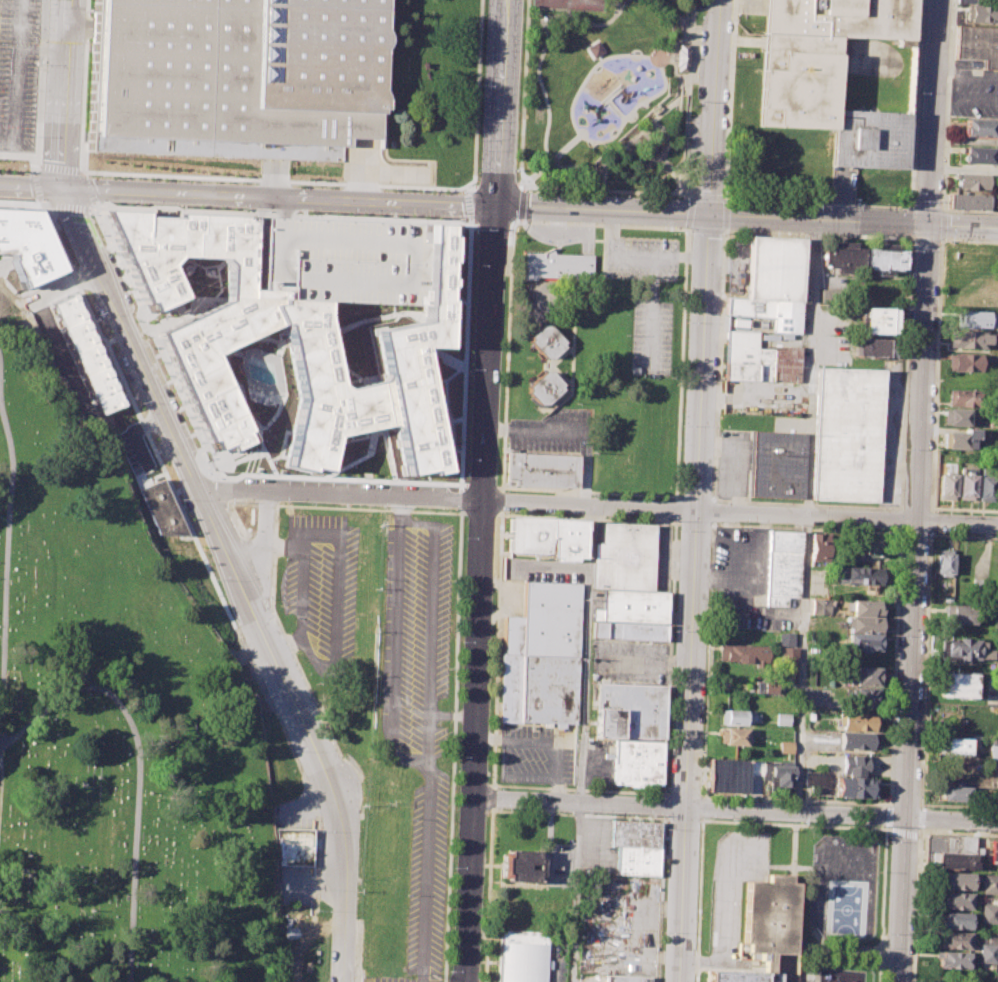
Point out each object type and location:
building: (965, 0)
park: (570, 4)
road: (665, 8)
building: (983, 13)
road: (669, 30)
road: (680, 38)
building: (977, 44)
building: (680, 57)
road: (538, 63)
road: (673, 64)
building: (238, 72)
building: (829, 74)
road: (662, 78)
parking lot: (18, 79)
street lamp: (482, 86)
road: (39, 87)
road: (67, 92)
road: (476, 99)
park: (610, 100)
road: (500, 103)
road: (677, 112)
road: (931, 113)
building: (980, 127)
road: (642, 129)
road: (945, 132)
building: (977, 154)
road: (18, 156)
road: (660, 159)
road: (549, 161)
road: (38, 166)
road: (61, 169)
street lamp: (477, 172)
road: (677, 177)
road: (272, 180)
building: (971, 180)
road: (32, 183)
road: (38, 184)
road: (470, 185)
road: (85, 187)
road: (604, 190)
road: (280, 195)
road: (21, 199)
road: (515, 199)
road: (44, 201)
building: (966, 201)
road: (468, 205)
traffic signals: (495, 206)
road: (70, 207)
road: (93, 207)
road: (690, 212)
road: (286, 214)
road: (710, 215)
road: (725, 216)
road: (513, 219)
road: (962, 227)
road: (909, 245)
building: (26, 248)
building: (842, 256)
building: (885, 258)
building: (338, 262)
parking garage: (338, 262)
building: (555, 266)
road: (510, 267)
building: (773, 282)
building: (977, 319)
building: (877, 320)
building: (971, 338)
road: (153, 340)
building: (544, 341)
building: (284, 345)
building: (871, 347)
road: (465, 354)
building: (87, 355)
building: (759, 359)
building: (968, 362)
road: (681, 364)
road: (921, 373)
road: (151, 388)
building: (544, 389)
building: (959, 397)
building: (958, 416)
building: (847, 435)
building: (958, 439)
road: (158, 454)
building: (776, 465)
building: (542, 470)
road: (338, 478)
building: (947, 484)
building: (967, 484)
road: (482, 485)
building: (986, 485)
road: (494, 490)
road: (698, 490)
road: (588, 491)
road: (232, 492)
road: (460, 499)
road: (501, 501)
road: (591, 505)
road: (347, 507)
building: (164, 508)
road: (675, 509)
road: (400, 511)
road: (907, 511)
road: (481, 514)
road: (805, 515)
road: (587, 518)
road: (957, 522)
building: (548, 536)
road: (263, 544)
building: (820, 547)
building: (869, 547)
building: (624, 556)
building: (943, 562)
building: (782, 567)
building: (858, 574)
road: (8, 581)
building: (979, 584)
parking lot: (323, 590)
road: (479, 593)
building: (819, 607)
building: (865, 607)
building: (632, 609)
building: (965, 613)
building: (864, 624)
building: (628, 632)
road: (3, 635)
road: (926, 636)
building: (785, 639)
building: (863, 644)
road: (496, 648)
building: (964, 649)
building: (743, 653)
building: (539, 655)
building: (788, 655)
road: (669, 657)
parking lot: (627, 660)
building: (864, 676)
building: (960, 684)
building: (769, 687)
building: (866, 699)
building: (630, 710)
road: (452, 714)
parking lot: (418, 717)
building: (738, 717)
building: (782, 719)
building: (858, 721)
park: (113, 723)
building: (734, 736)
building: (856, 741)
road: (582, 743)
road: (536, 744)
road: (451, 745)
building: (956, 745)
building: (785, 746)
building: (994, 749)
parking lot: (535, 750)
road: (908, 751)
road: (426, 759)
building: (638, 763)
building: (854, 764)
road: (140, 766)
building: (732, 774)
building: (815, 777)
road: (328, 778)
building: (777, 778)
building: (854, 787)
road: (578, 789)
building: (955, 792)
building: (994, 797)
road: (701, 804)
road: (664, 805)
road: (734, 809)
road: (919, 817)
road: (788, 824)
road: (890, 830)
building: (635, 833)
building: (296, 846)
building: (950, 851)
building: (994, 851)
building: (637, 860)
building: (517, 867)
road: (429, 870)
building: (957, 880)
building: (990, 884)
parking lot: (733, 895)
road: (660, 898)
road: (733, 899)
building: (955, 900)
road: (916, 904)
building: (988, 914)
building: (955, 921)
building: (765, 927)
building: (954, 940)
building: (988, 952)
building: (521, 956)
building: (953, 960)
road: (718, 961)
building: (627, 978)

